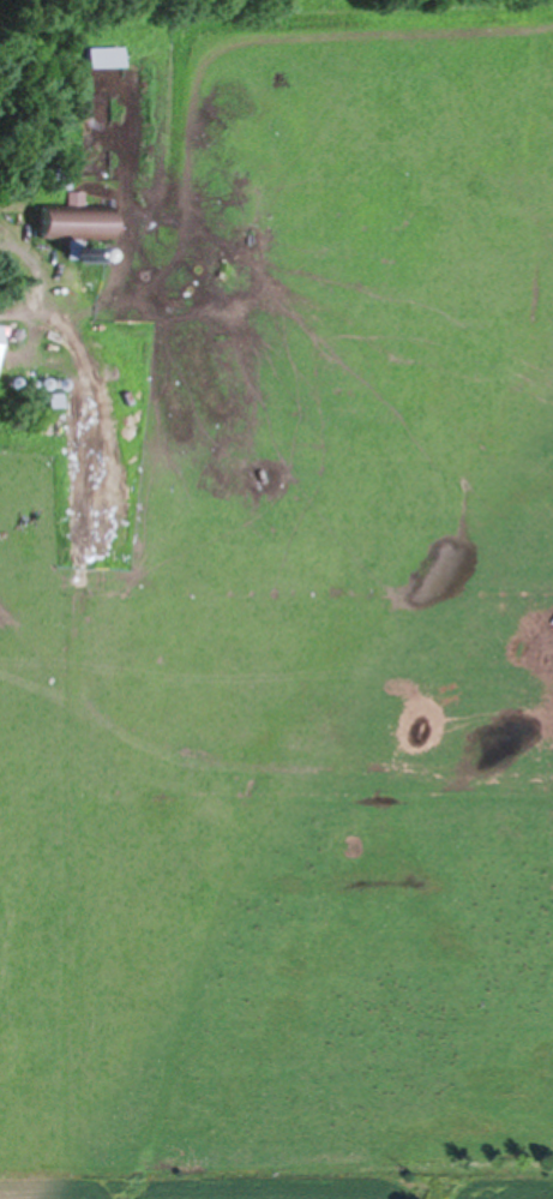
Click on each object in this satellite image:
building: (104, 60)
building: (78, 224)
building: (0, 338)

